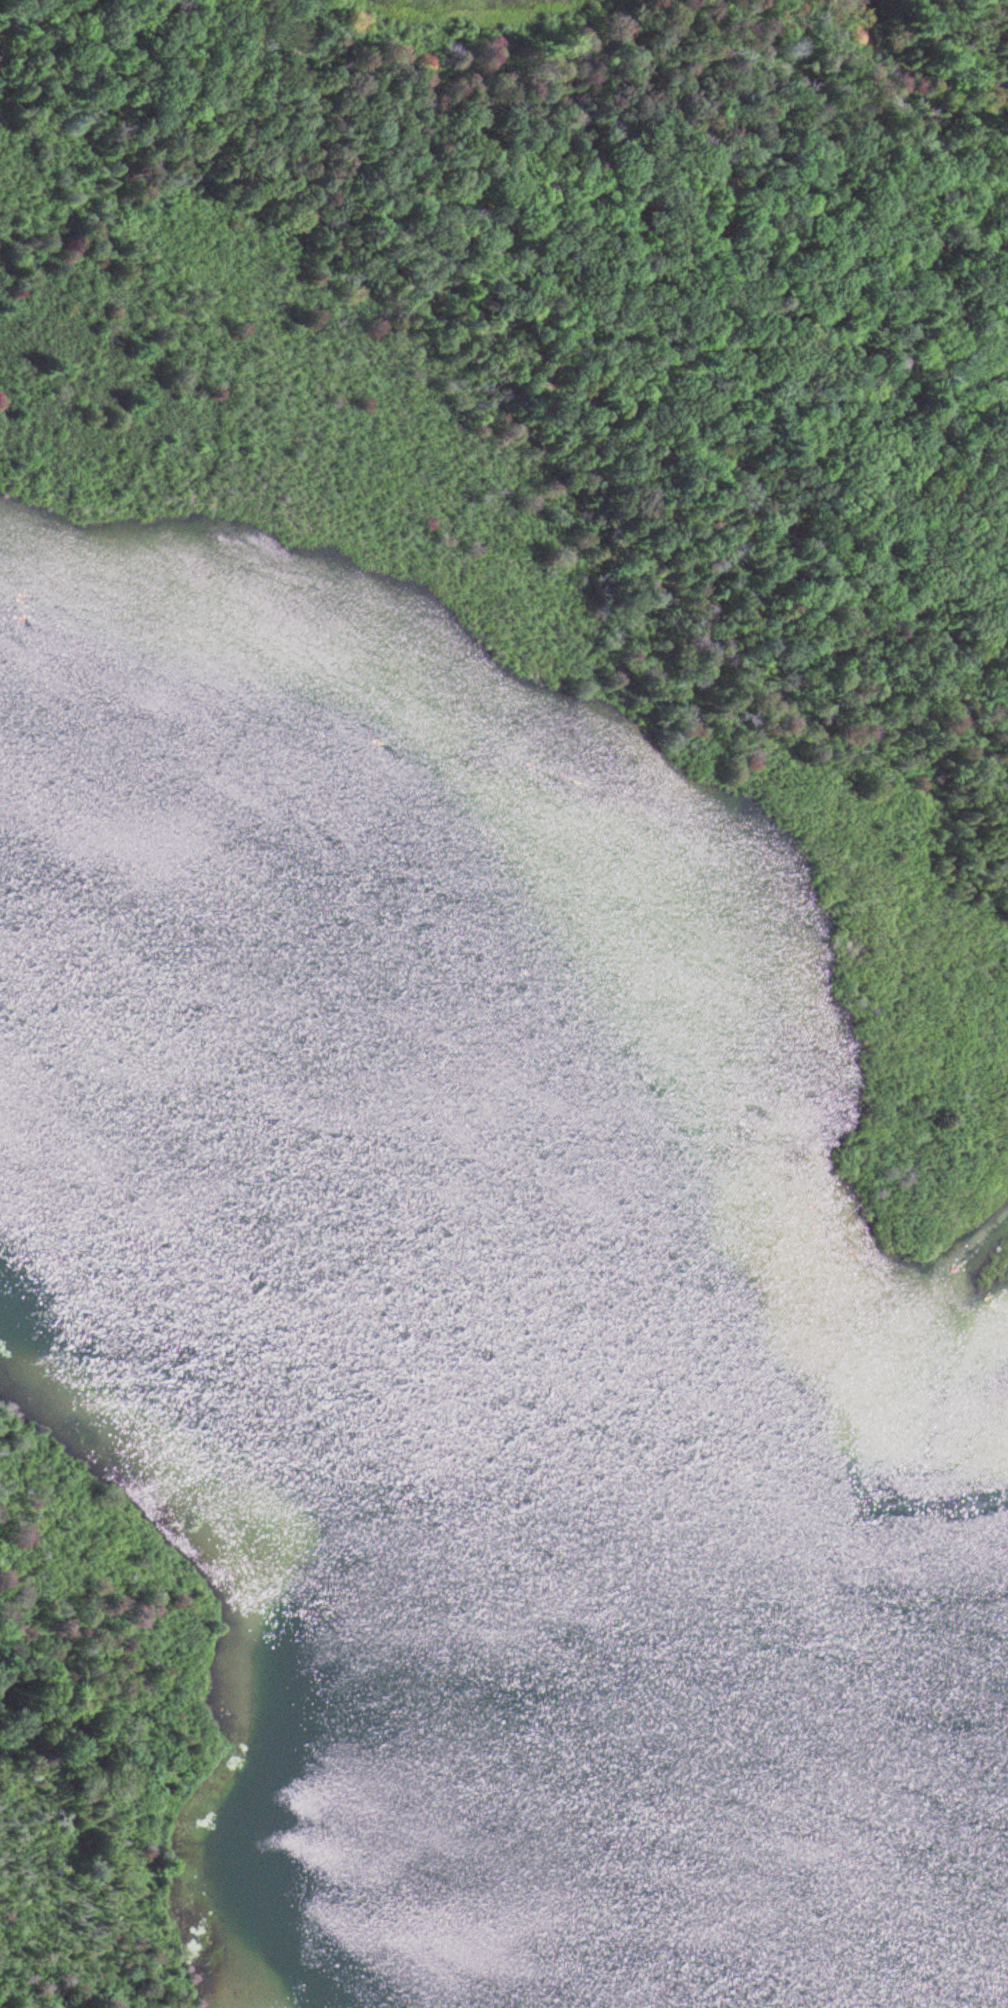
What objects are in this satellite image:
river: (552, 1378)

